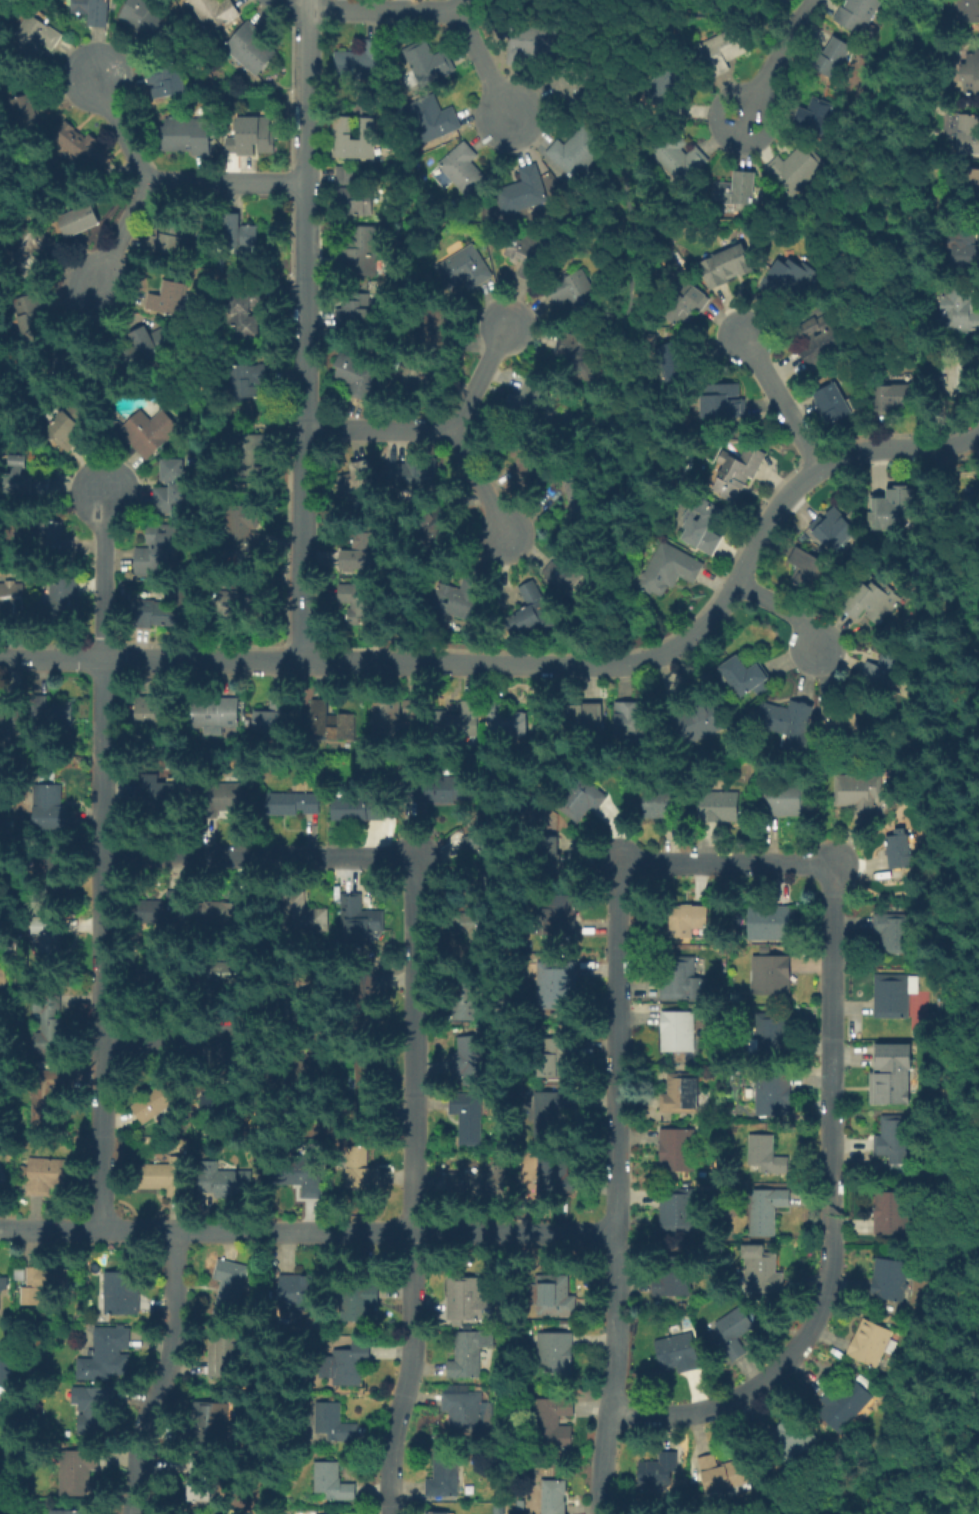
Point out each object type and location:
building: (733, 0)
road: (461, 5)
road: (303, 7)
road: (381, 10)
road: (631, 11)
building: (969, 11)
building: (94, 12)
building: (216, 13)
building: (859, 15)
building: (146, 18)
building: (37, 39)
building: (531, 45)
building: (250, 49)
building: (724, 50)
building: (361, 60)
building: (835, 60)
road: (777, 61)
building: (428, 62)
road: (483, 65)
building: (972, 75)
building: (168, 79)
building: (670, 86)
building: (578, 88)
building: (30, 111)
building: (818, 111)
building: (433, 121)
road: (122, 126)
building: (968, 135)
building: (187, 137)
building: (254, 137)
building: (353, 141)
building: (81, 144)
building: (578, 152)
building: (679, 158)
building: (797, 170)
building: (464, 171)
building: (346, 176)
building: (971, 180)
road: (225, 181)
building: (737, 190)
building: (525, 194)
building: (357, 201)
building: (80, 220)
building: (238, 233)
road: (119, 236)
building: (166, 236)
building: (24, 246)
building: (964, 247)
building: (359, 255)
building: (530, 258)
building: (728, 267)
building: (466, 270)
building: (785, 281)
building: (575, 295)
building: (170, 298)
building: (686, 306)
building: (246, 313)
building: (959, 313)
building: (357, 315)
building: (31, 317)
building: (440, 329)
road: (617, 330)
road: (303, 337)
building: (817, 342)
building: (145, 349)
building: (74, 352)
building: (577, 358)
building: (676, 363)
road: (480, 374)
building: (358, 378)
building: (417, 379)
building: (958, 382)
building: (248, 383)
building: (530, 396)
building: (892, 399)
building: (722, 403)
road: (781, 403)
building: (833, 404)
building: (71, 421)
road: (377, 428)
building: (147, 432)
road: (624, 435)
road: (959, 442)
building: (252, 456)
building: (528, 462)
building: (737, 474)
building: (415, 477)
building: (26, 483)
building: (355, 484)
road: (481, 485)
building: (175, 487)
building: (578, 498)
building: (895, 509)
building: (437, 523)
building: (701, 526)
building: (832, 530)
building: (243, 531)
building: (54, 544)
building: (161, 549)
building: (356, 554)
building: (669, 570)
road: (103, 571)
building: (808, 571)
building: (564, 581)
building: (460, 601)
building: (11, 602)
building: (58, 602)
building: (874, 603)
building: (244, 604)
building: (355, 606)
building: (535, 608)
road: (781, 608)
building: (163, 615)
road: (516, 663)
building: (884, 674)
building: (747, 677)
building: (410, 708)
building: (52, 713)
building: (218, 714)
building: (387, 716)
building: (582, 718)
building: (154, 719)
building: (321, 719)
building: (632, 719)
building: (700, 720)
building: (9, 722)
building: (274, 723)
building: (457, 723)
building: (841, 723)
building: (510, 727)
building: (789, 728)
building: (443, 792)
building: (855, 793)
building: (162, 794)
building: (222, 799)
building: (582, 799)
building: (784, 800)
building: (294, 804)
building: (662, 806)
building: (53, 807)
building: (721, 807)
building: (356, 809)
building: (546, 831)
building: (543, 850)
building: (900, 851)
building: (487, 854)
building: (56, 863)
road: (413, 892)
building: (162, 909)
building: (219, 913)
building: (558, 914)
building: (302, 918)
building: (357, 921)
building: (770, 922)
building: (690, 923)
building: (474, 930)
building: (48, 935)
building: (896, 935)
road: (103, 944)
building: (231, 975)
building: (772, 977)
building: (164, 980)
building: (681, 980)
building: (556, 986)
building: (892, 998)
building: (364, 1000)
building: (463, 1000)
building: (676, 1032)
building: (772, 1035)
building: (50, 1038)
road: (177, 1043)
building: (553, 1060)
building: (469, 1061)
building: (891, 1074)
building: (298, 1076)
building: (363, 1087)
building: (773, 1095)
building: (681, 1096)
building: (154, 1102)
building: (556, 1110)
building: (45, 1113)
building: (468, 1115)
road: (832, 1120)
building: (897, 1144)
building: (677, 1150)
building: (765, 1155)
building: (556, 1172)
building: (47, 1177)
building: (361, 1177)
building: (162, 1179)
building: (304, 1179)
building: (477, 1182)
building: (1, 1183)
building: (227, 1183)
road: (615, 1183)
building: (0, 1187)
building: (765, 1211)
building: (679, 1213)
building: (893, 1214)
road: (307, 1229)
building: (762, 1275)
building: (231, 1280)
building: (671, 1280)
building: (889, 1280)
building: (43, 1283)
building: (3, 1288)
building: (303, 1293)
building: (555, 1296)
building: (122, 1297)
building: (466, 1300)
building: (356, 1303)
building: (733, 1333)
building: (870, 1345)
building: (469, 1352)
building: (227, 1353)
building: (108, 1354)
building: (555, 1354)
building: (676, 1357)
building: (348, 1363)
road: (165, 1373)
road: (411, 1373)
building: (9, 1379)
building: (844, 1403)
building: (99, 1414)
building: (468, 1414)
building: (214, 1423)
building: (337, 1423)
building: (549, 1427)
building: (793, 1439)
building: (76, 1472)
building: (657, 1472)
building: (722, 1473)
building: (445, 1480)
building: (334, 1484)
building: (203, 1485)
building: (558, 1497)
building: (69, 1512)
building: (435, 1512)

